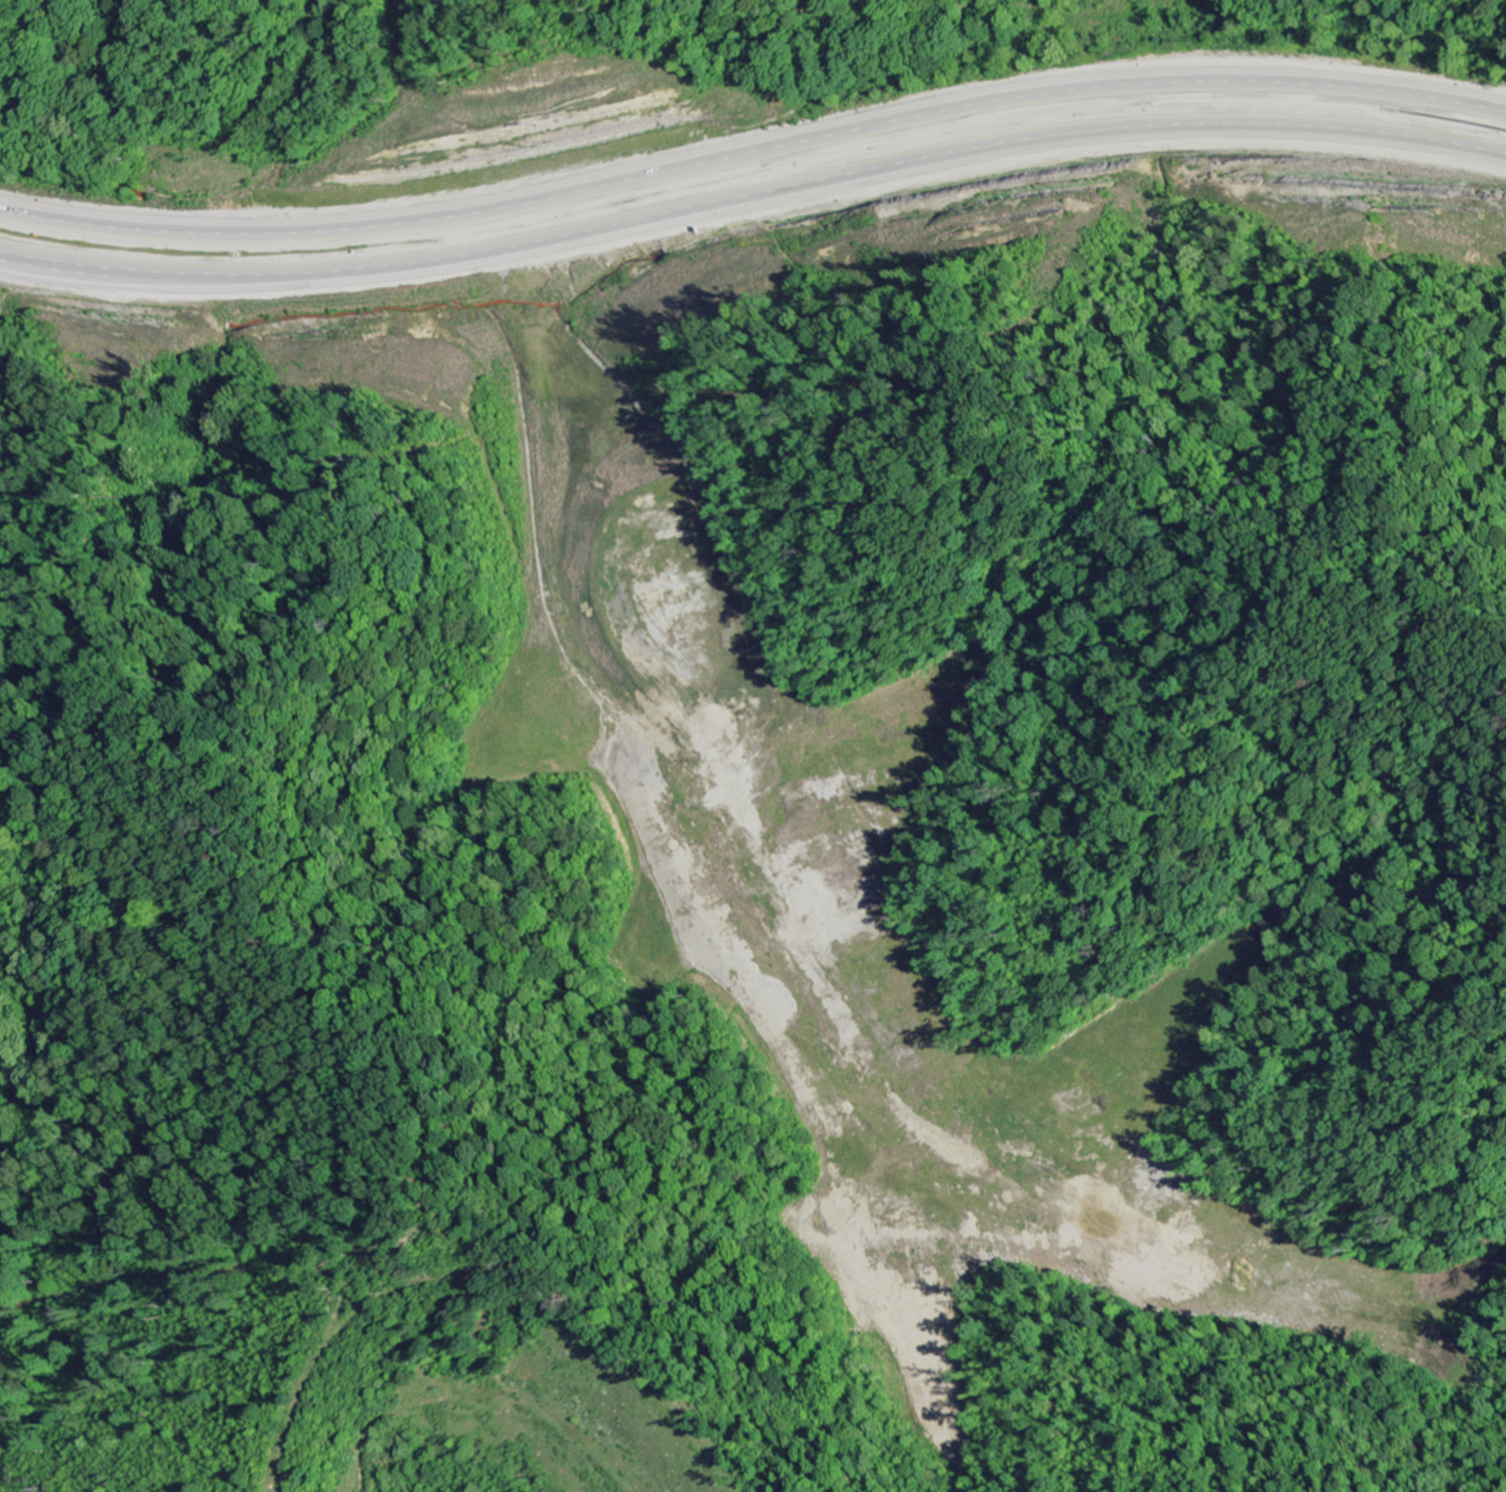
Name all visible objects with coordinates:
road: (755, 155)
road: (755, 193)

